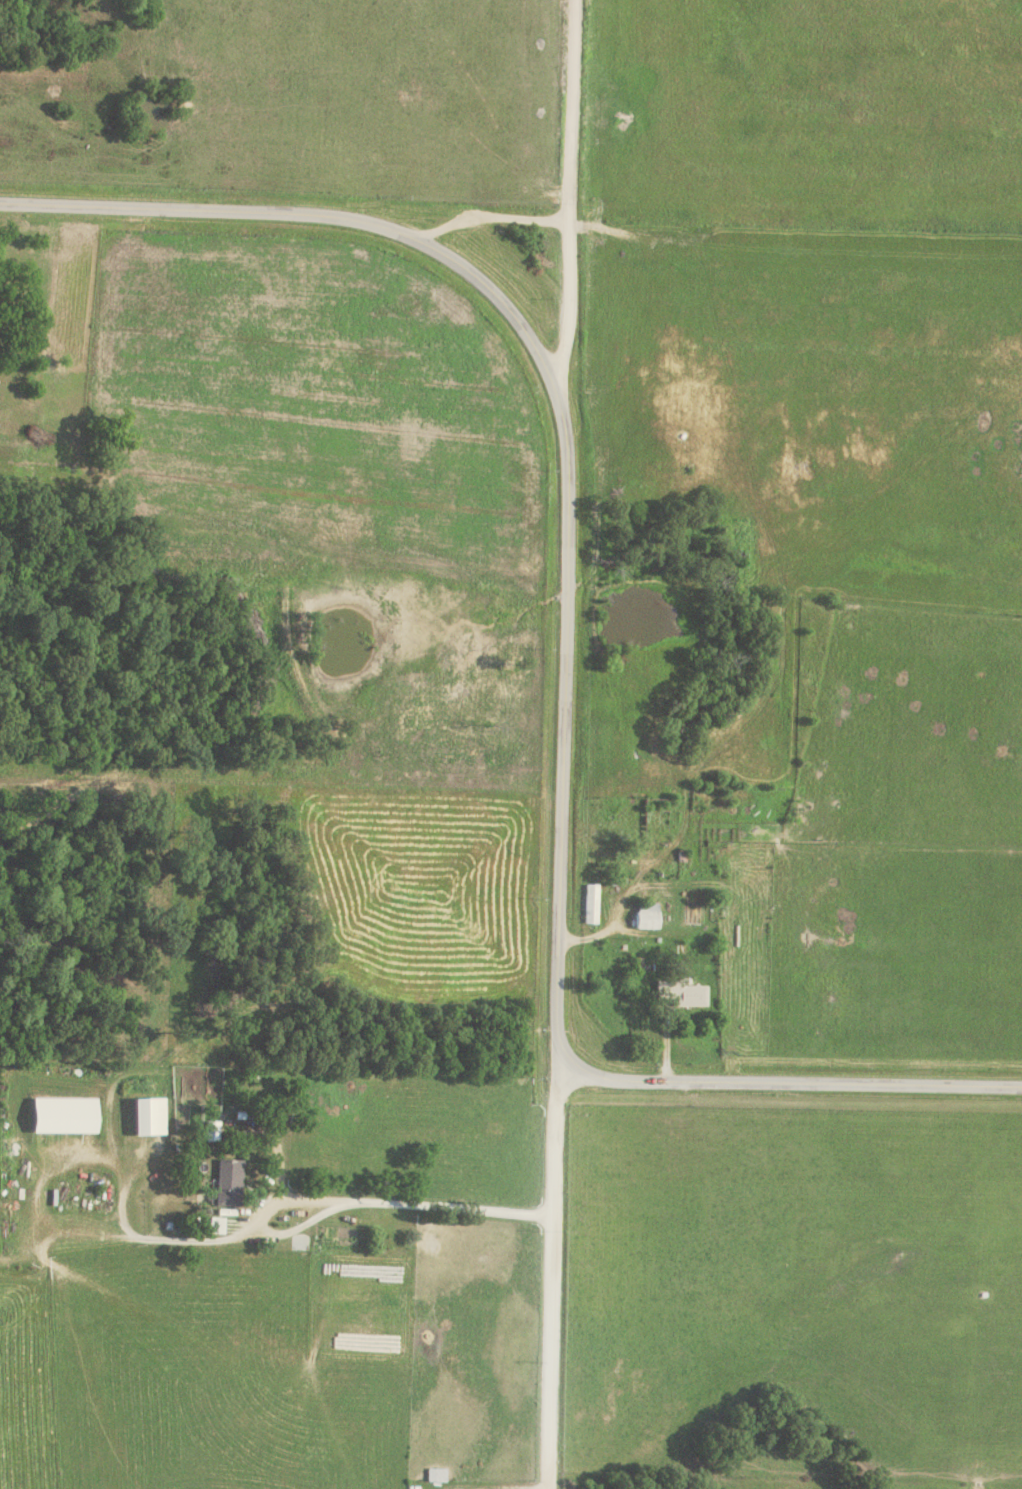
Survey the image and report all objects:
road: (571, 191)
road: (715, 260)
road: (564, 416)
building: (590, 903)
building: (646, 915)
road: (651, 968)
building: (679, 993)
road: (788, 1081)
building: (149, 1116)
building: (228, 1183)
road: (392, 1201)
building: (215, 1226)
road: (550, 1283)
building: (435, 1475)

